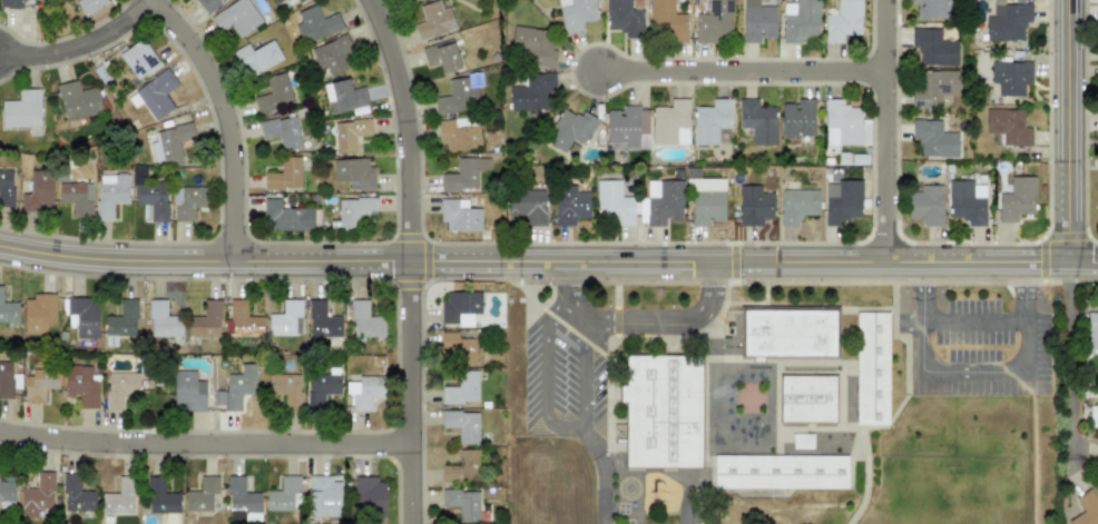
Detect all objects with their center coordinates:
building: (298, 0)
building: (277, 1)
building: (10, 3)
building: (207, 4)
building: (89, 6)
building: (931, 9)
building: (576, 13)
building: (621, 16)
building: (236, 17)
building: (433, 20)
building: (800, 20)
building: (666, 21)
building: (757, 21)
building: (843, 21)
building: (1006, 21)
building: (714, 22)
building: (315, 24)
road: (80, 42)
building: (533, 46)
building: (933, 47)
building: (332, 55)
building: (441, 56)
building: (257, 57)
building: (139, 59)
road: (738, 68)
building: (1010, 77)
building: (931, 87)
building: (274, 93)
building: (531, 93)
building: (154, 95)
building: (344, 96)
building: (457, 98)
building: (78, 101)
building: (22, 111)
building: (797, 117)
road: (226, 119)
building: (643, 121)
building: (710, 121)
building: (757, 121)
building: (670, 122)
building: (844, 125)
building: (622, 126)
building: (1007, 126)
road: (883, 129)
building: (281, 130)
building: (569, 130)
road: (1067, 130)
building: (459, 134)
building: (349, 135)
building: (933, 138)
building: (170, 141)
building: (354, 172)
building: (284, 175)
building: (463, 175)
building: (6, 188)
building: (37, 191)
building: (110, 194)
building: (76, 197)
building: (1017, 199)
building: (706, 200)
building: (187, 201)
building: (841, 201)
building: (967, 201)
building: (1097, 201)
building: (614, 202)
building: (661, 204)
building: (924, 204)
building: (569, 205)
building: (754, 205)
building: (796, 205)
building: (527, 206)
building: (353, 210)
building: (458, 215)
building: (285, 217)
road: (410, 258)
road: (548, 259)
road: (570, 289)
building: (459, 307)
building: (8, 310)
building: (38, 314)
building: (84, 316)
building: (121, 319)
building: (285, 319)
building: (163, 320)
building: (206, 320)
building: (242, 320)
building: (365, 320)
building: (322, 322)
road: (669, 322)
road: (972, 322)
building: (1091, 333)
building: (788, 334)
building: (458, 347)
road: (1069, 366)
building: (871, 368)
road: (973, 372)
building: (38, 384)
building: (81, 385)
building: (239, 386)
building: (285, 387)
building: (322, 387)
building: (119, 388)
building: (461, 388)
building: (188, 390)
building: (363, 390)
building: (807, 398)
building: (661, 411)
building: (1092, 413)
road: (556, 423)
building: (462, 425)
road: (206, 447)
building: (461, 467)
building: (780, 472)
building: (7, 491)
building: (202, 494)
building: (37, 495)
building: (77, 495)
building: (284, 495)
building: (367, 495)
building: (323, 496)
building: (160, 497)
building: (118, 498)
building: (242, 498)
building: (462, 504)
building: (1086, 508)

